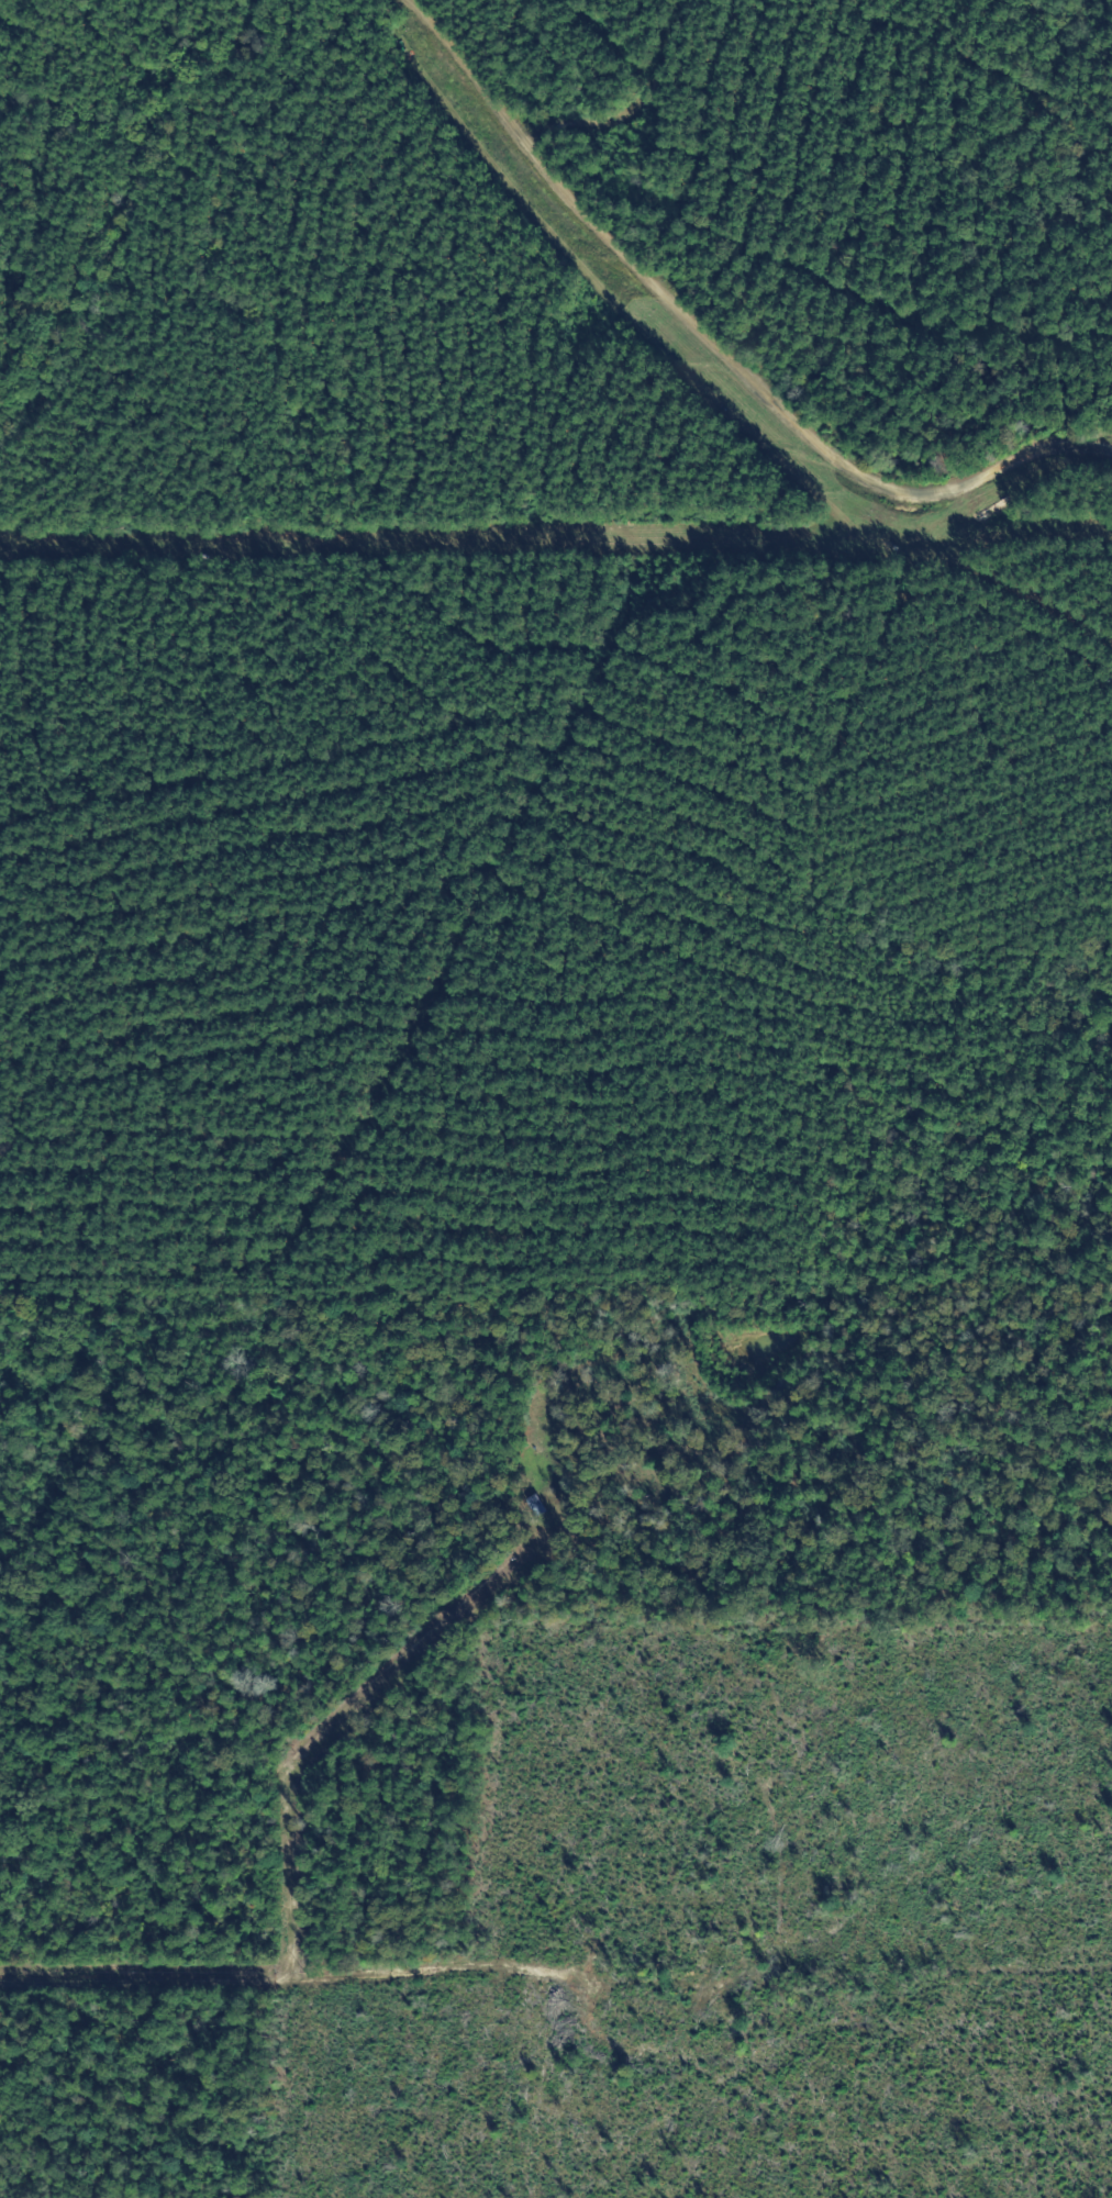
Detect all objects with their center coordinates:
road: (677, 357)
building: (532, 1505)

